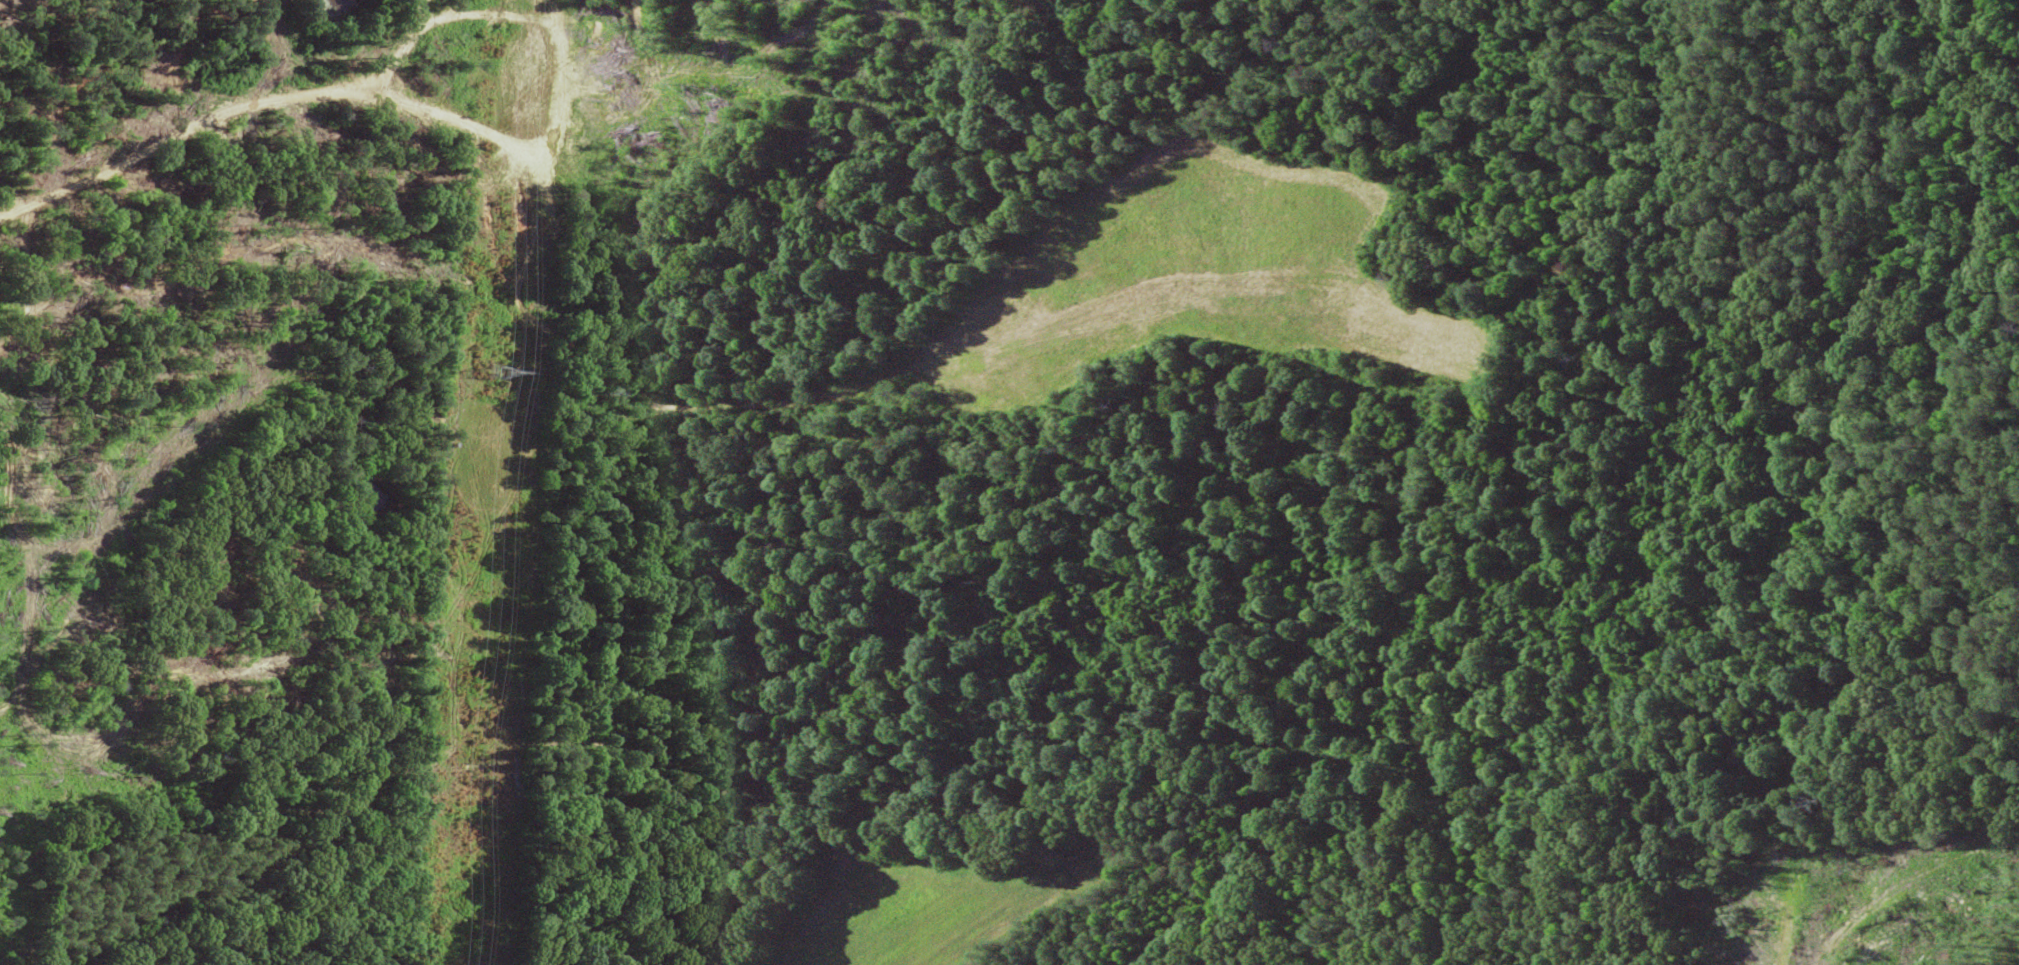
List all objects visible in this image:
power tower: (495, 372)

